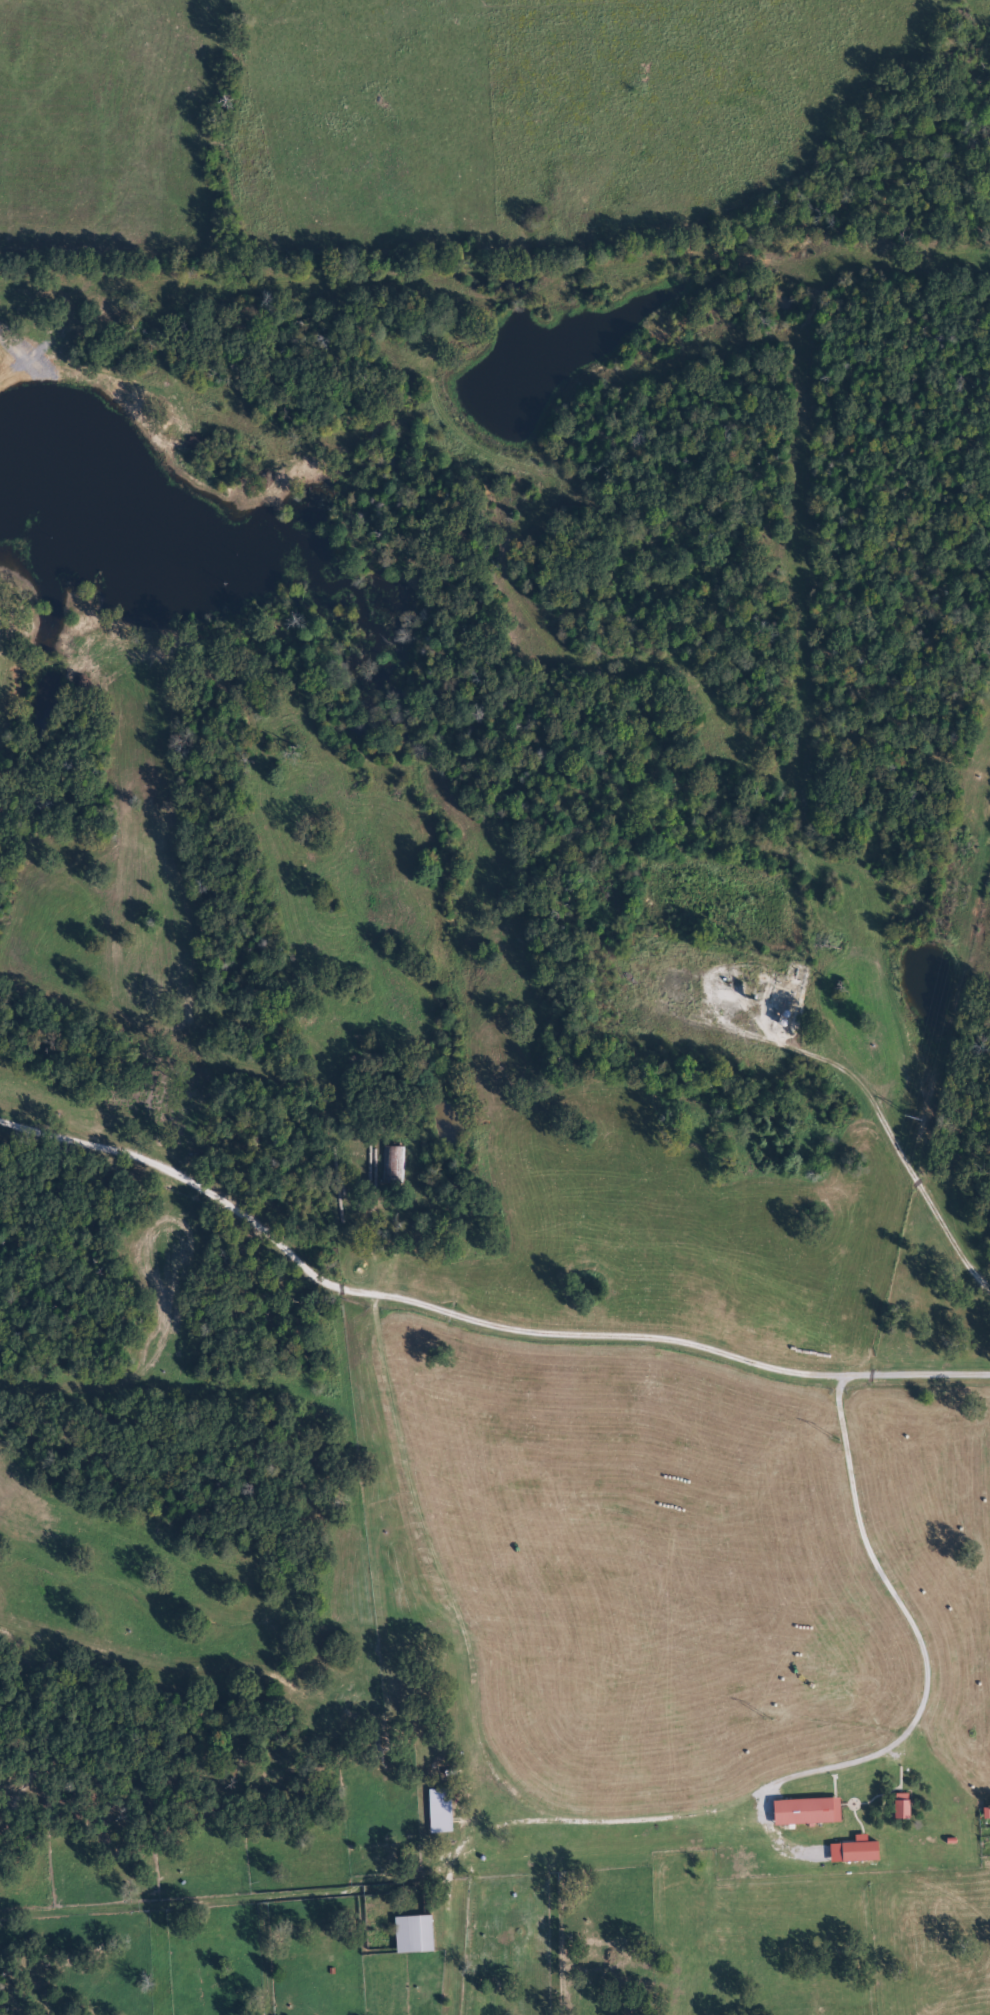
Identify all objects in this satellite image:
building: (396, 1162)
road: (671, 1356)
power tower: (836, 1442)
road: (390, 1501)
building: (901, 1807)
building: (806, 1812)
building: (853, 1852)
building: (414, 1935)

